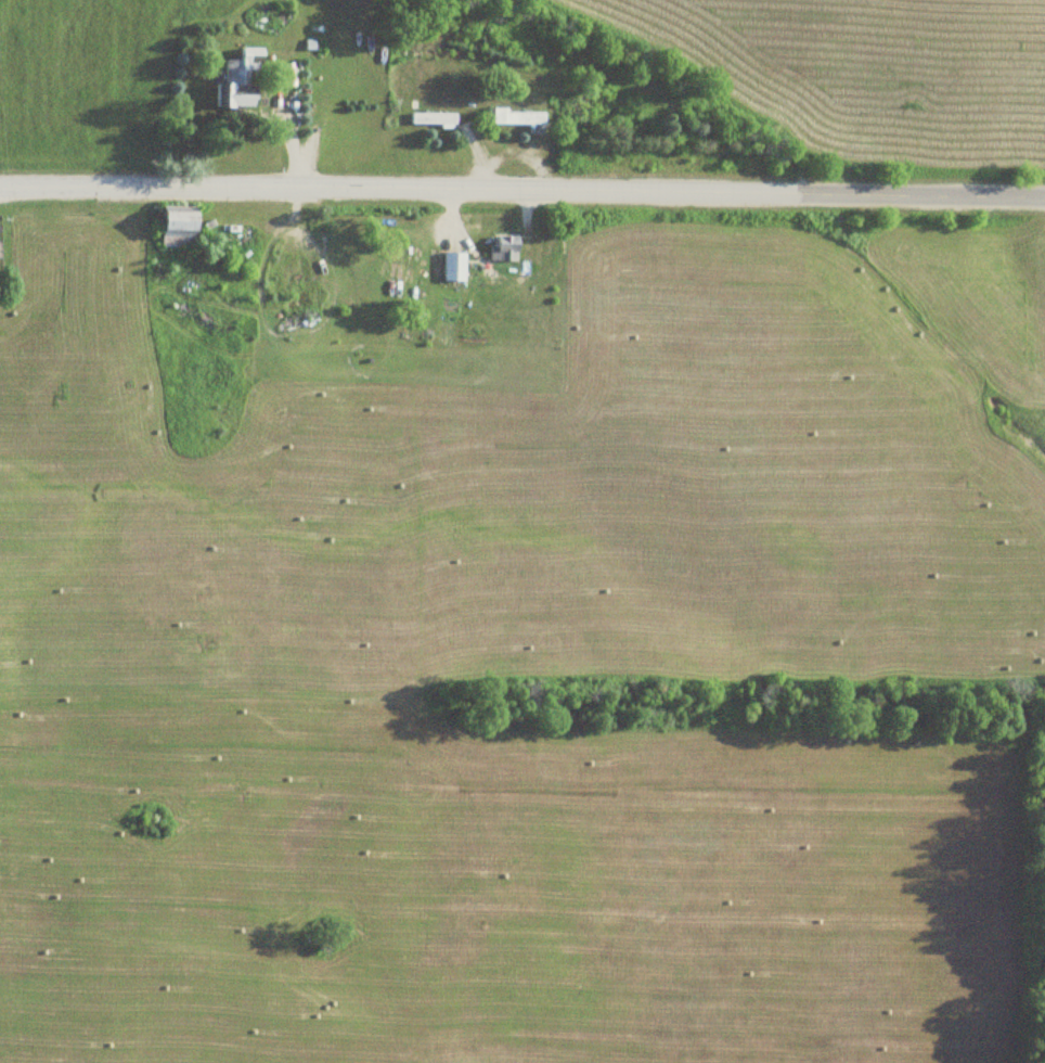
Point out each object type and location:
building: (241, 81)
building: (515, 116)
building: (430, 118)
road: (522, 188)
building: (177, 226)
building: (504, 246)
building: (452, 265)

